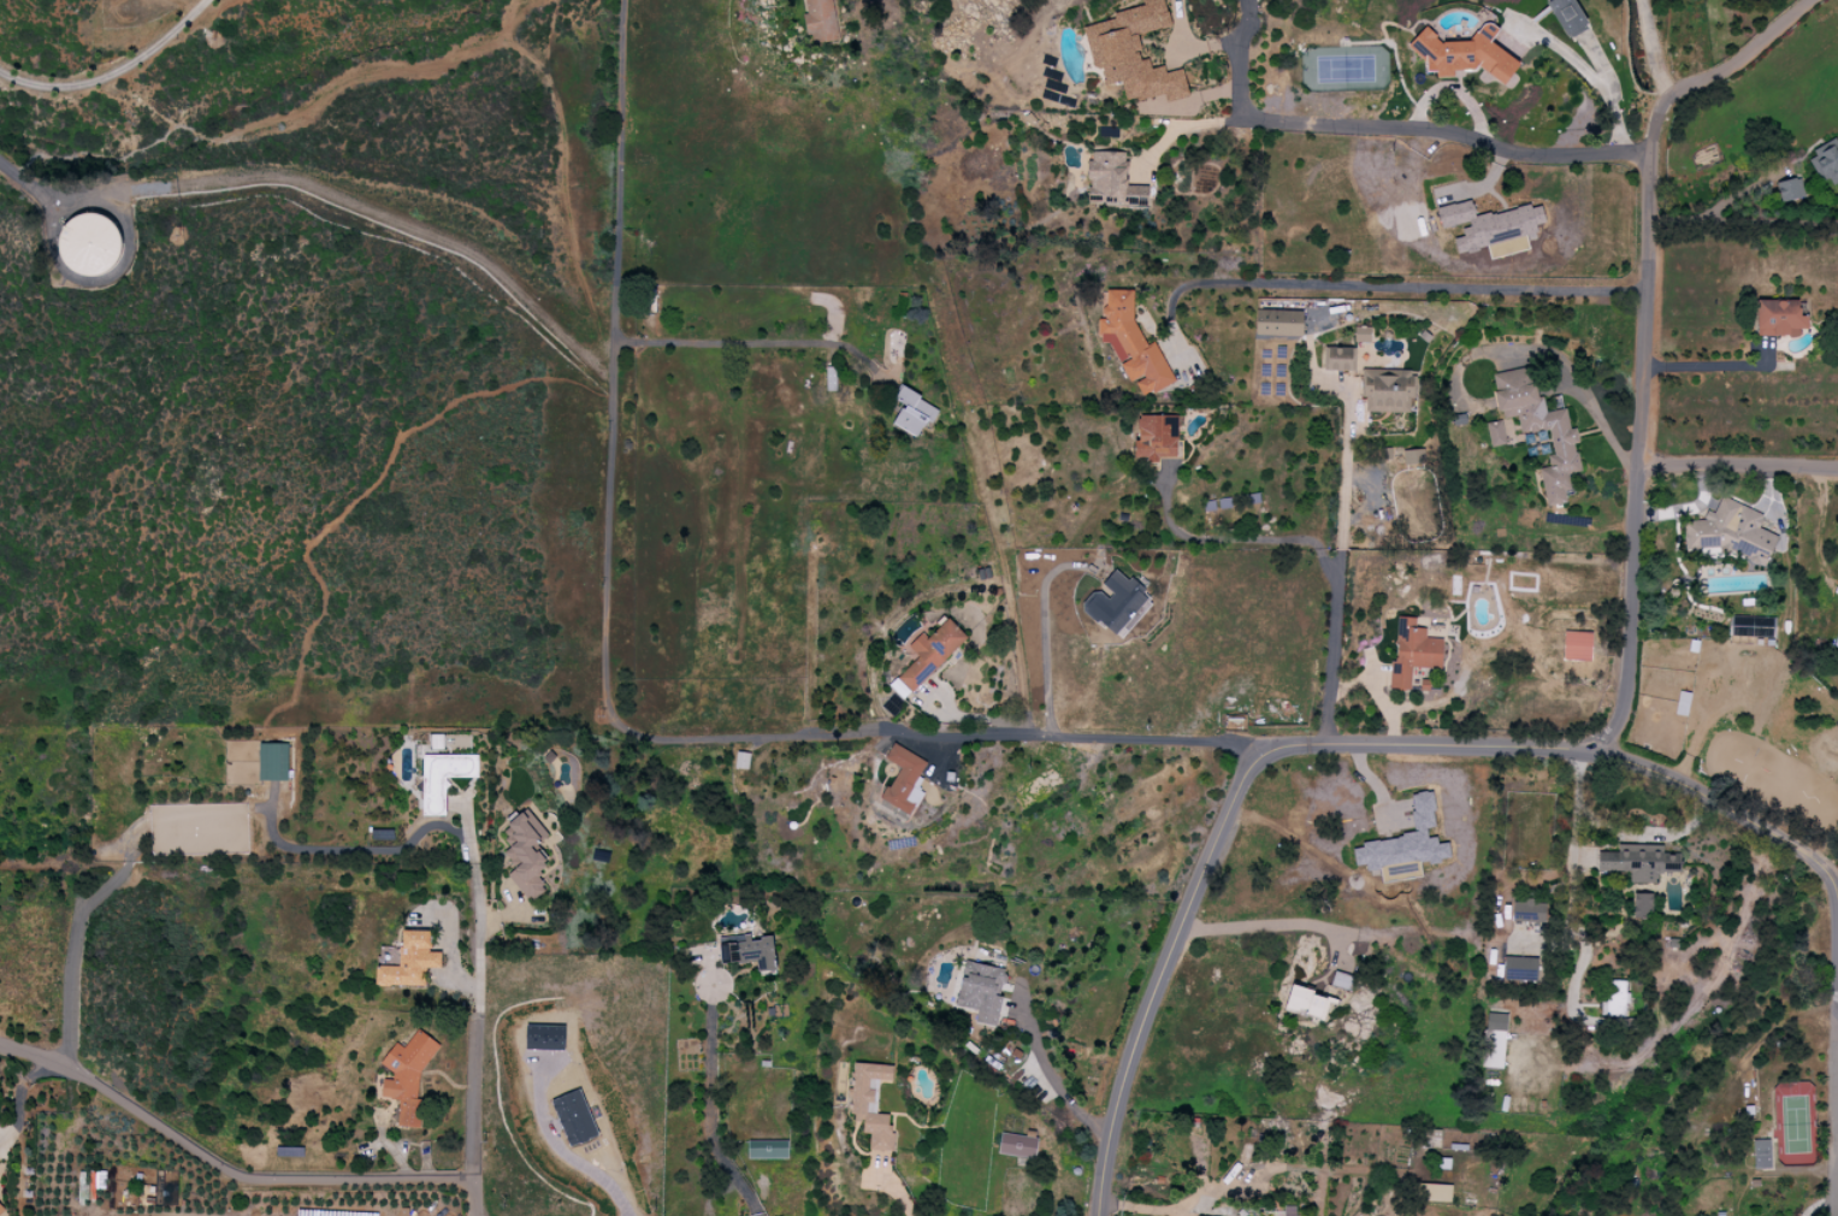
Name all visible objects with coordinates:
building: (1566, 16)
building: (818, 19)
road: (1647, 34)
road: (1556, 48)
building: (1133, 53)
building: (1462, 53)
road: (1716, 66)
road: (116, 75)
road: (1661, 79)
road: (1448, 85)
road: (320, 94)
road: (617, 112)
road: (1613, 117)
road: (1414, 120)
road: (1188, 124)
road: (1388, 126)
road: (1482, 134)
building: (1826, 161)
building: (1111, 179)
road: (29, 182)
road: (1479, 185)
building: (1789, 189)
road: (361, 207)
road: (1742, 218)
building: (1487, 224)
building: (89, 244)
road: (1436, 289)
building: (1779, 317)
building: (1278, 321)
building: (1360, 333)
road: (744, 341)
building: (1130, 343)
building: (1338, 358)
road: (1713, 365)
building: (1387, 389)
building: (911, 412)
road: (1598, 419)
building: (1538, 427)
building: (1497, 433)
building: (1156, 437)
road: (1635, 460)
road: (1736, 467)
road: (610, 474)
road: (1342, 482)
building: (1727, 530)
road: (1320, 550)
building: (1116, 602)
building: (1750, 626)
road: (1039, 636)
building: (1576, 645)
building: (1412, 651)
building: (927, 656)
road: (936, 734)
road: (1571, 745)
building: (740, 760)
building: (272, 761)
building: (443, 778)
building: (903, 779)
road: (1648, 833)
building: (1403, 845)
building: (525, 852)
building: (1638, 861)
road: (1834, 878)
road: (1573, 880)
building: (1642, 904)
building: (1527, 910)
road: (1385, 933)
building: (746, 950)
road: (71, 958)
building: (409, 961)
building: (1519, 968)
building: (1340, 979)
road: (1162, 980)
building: (980, 990)
road: (481, 991)
road: (704, 991)
building: (1613, 998)
building: (1305, 1002)
building: (544, 1037)
building: (1493, 1040)
building: (407, 1075)
road: (1050, 1081)
building: (870, 1103)
road: (707, 1110)
building: (574, 1117)
building: (1016, 1144)
building: (767, 1149)
road: (561, 1151)
building: (1760, 1153)
road: (238, 1173)
building: (1435, 1192)
road: (1821, 1203)
building: (0, 1209)

